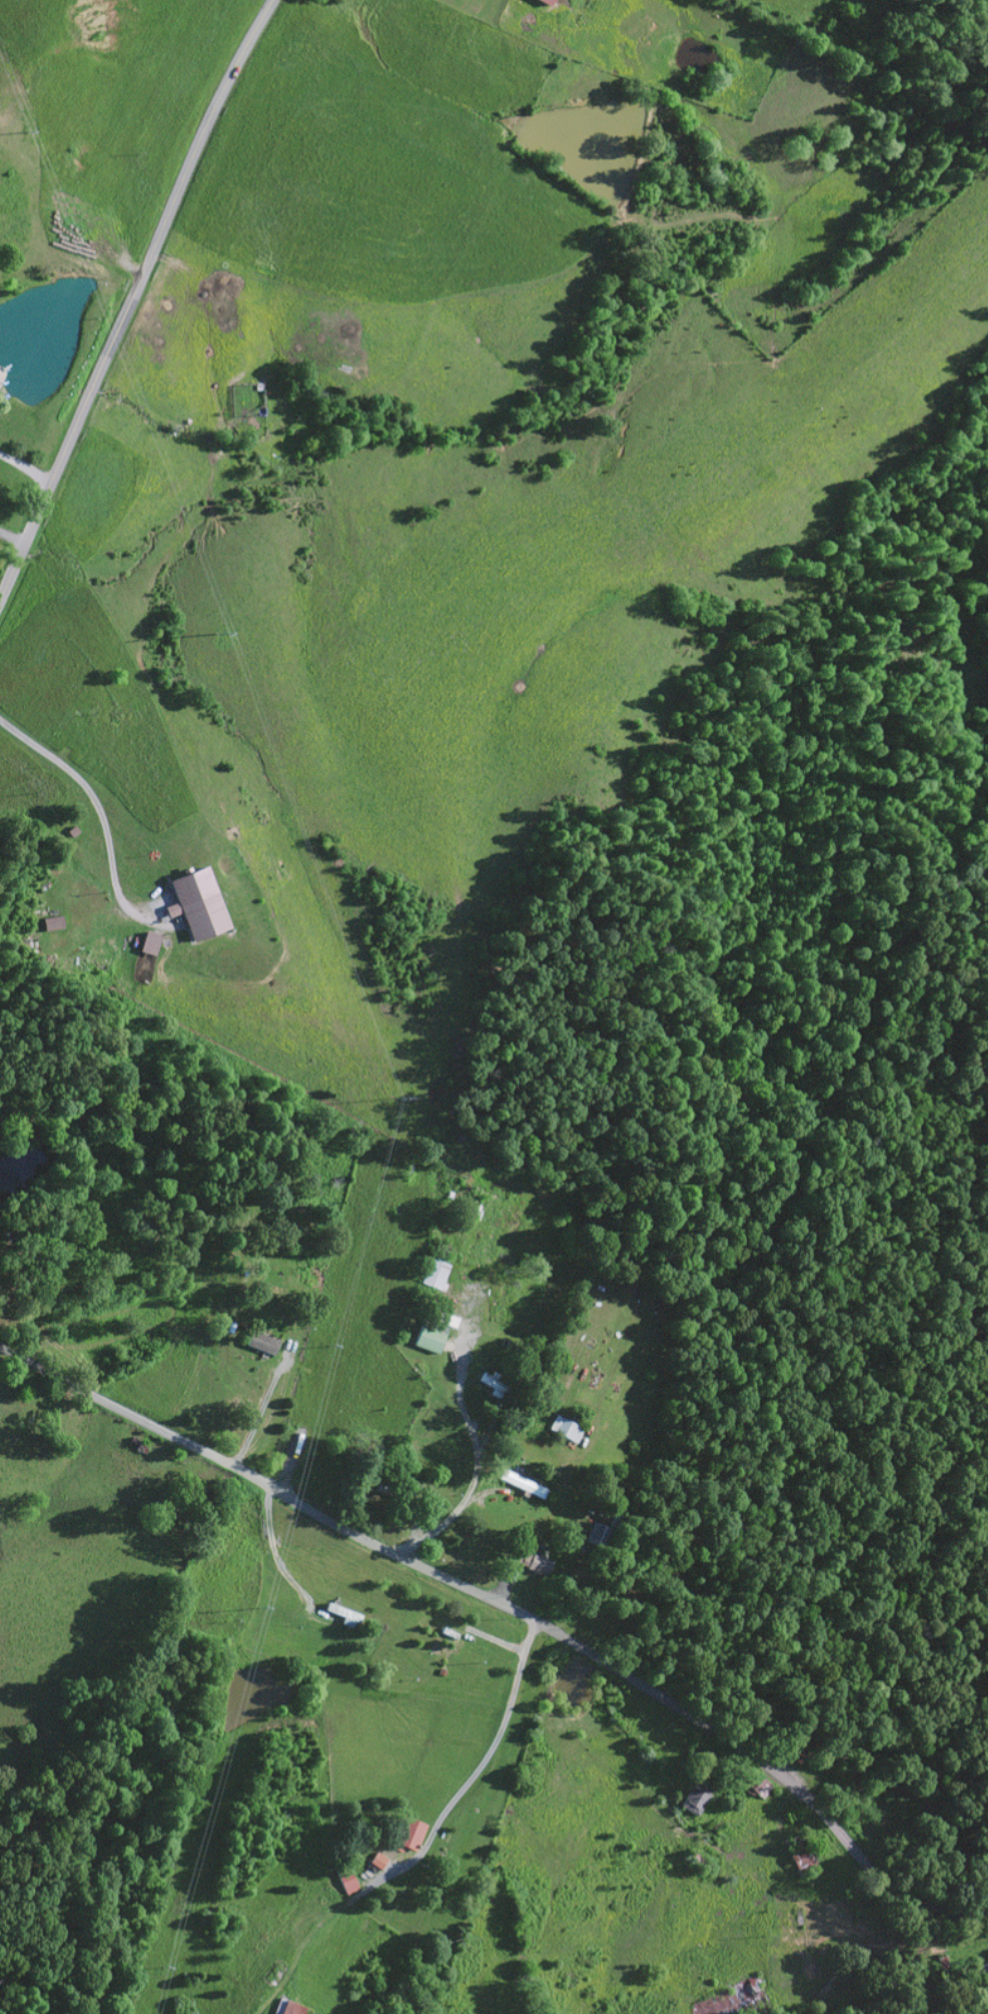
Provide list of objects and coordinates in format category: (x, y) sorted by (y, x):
building: (546, 1)
road: (125, 264)
road: (131, 295)
road: (11, 536)
road: (90, 792)
building: (72, 829)
building: (198, 903)
building: (50, 923)
building: (148, 943)
building: (433, 1274)
building: (432, 1332)
building: (261, 1343)
building: (492, 1385)
building: (564, 1429)
building: (520, 1484)
building: (594, 1534)
building: (534, 1563)
road: (511, 1610)
building: (694, 1798)
building: (408, 1833)
building: (376, 1860)
building: (345, 1879)
building: (286, 2007)

